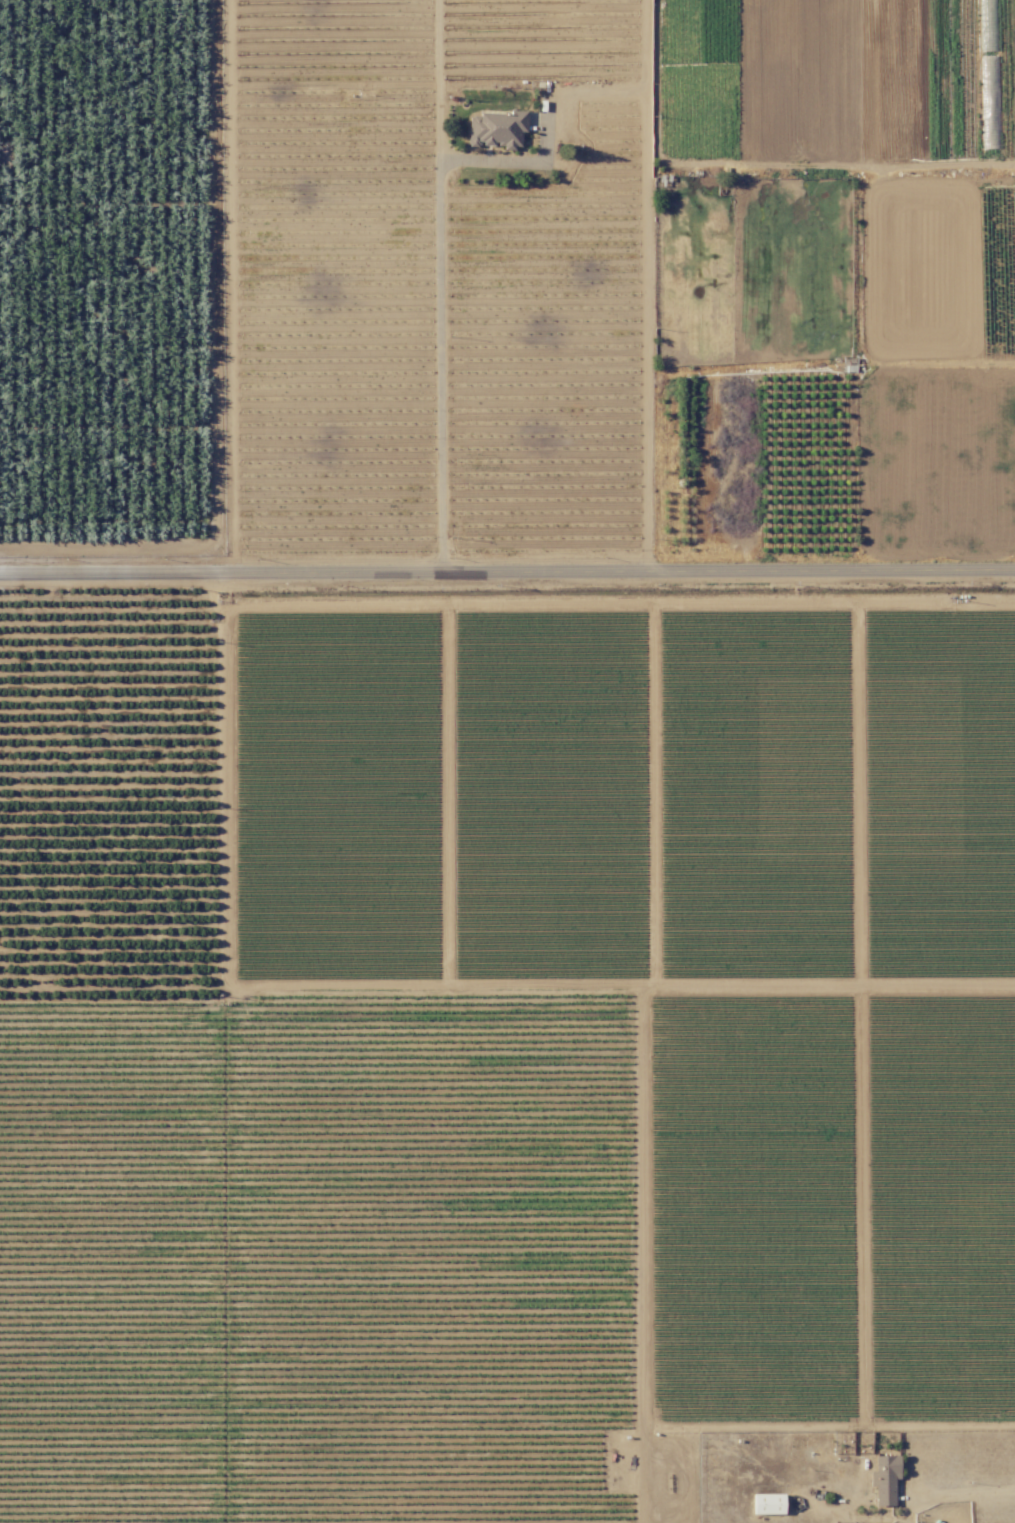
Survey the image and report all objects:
building: (495, 128)
road: (513, 159)
crop: (832, 277)
crop: (112, 279)
road: (436, 286)
road: (643, 286)
road: (507, 573)
building: (884, 1478)
building: (767, 1503)

